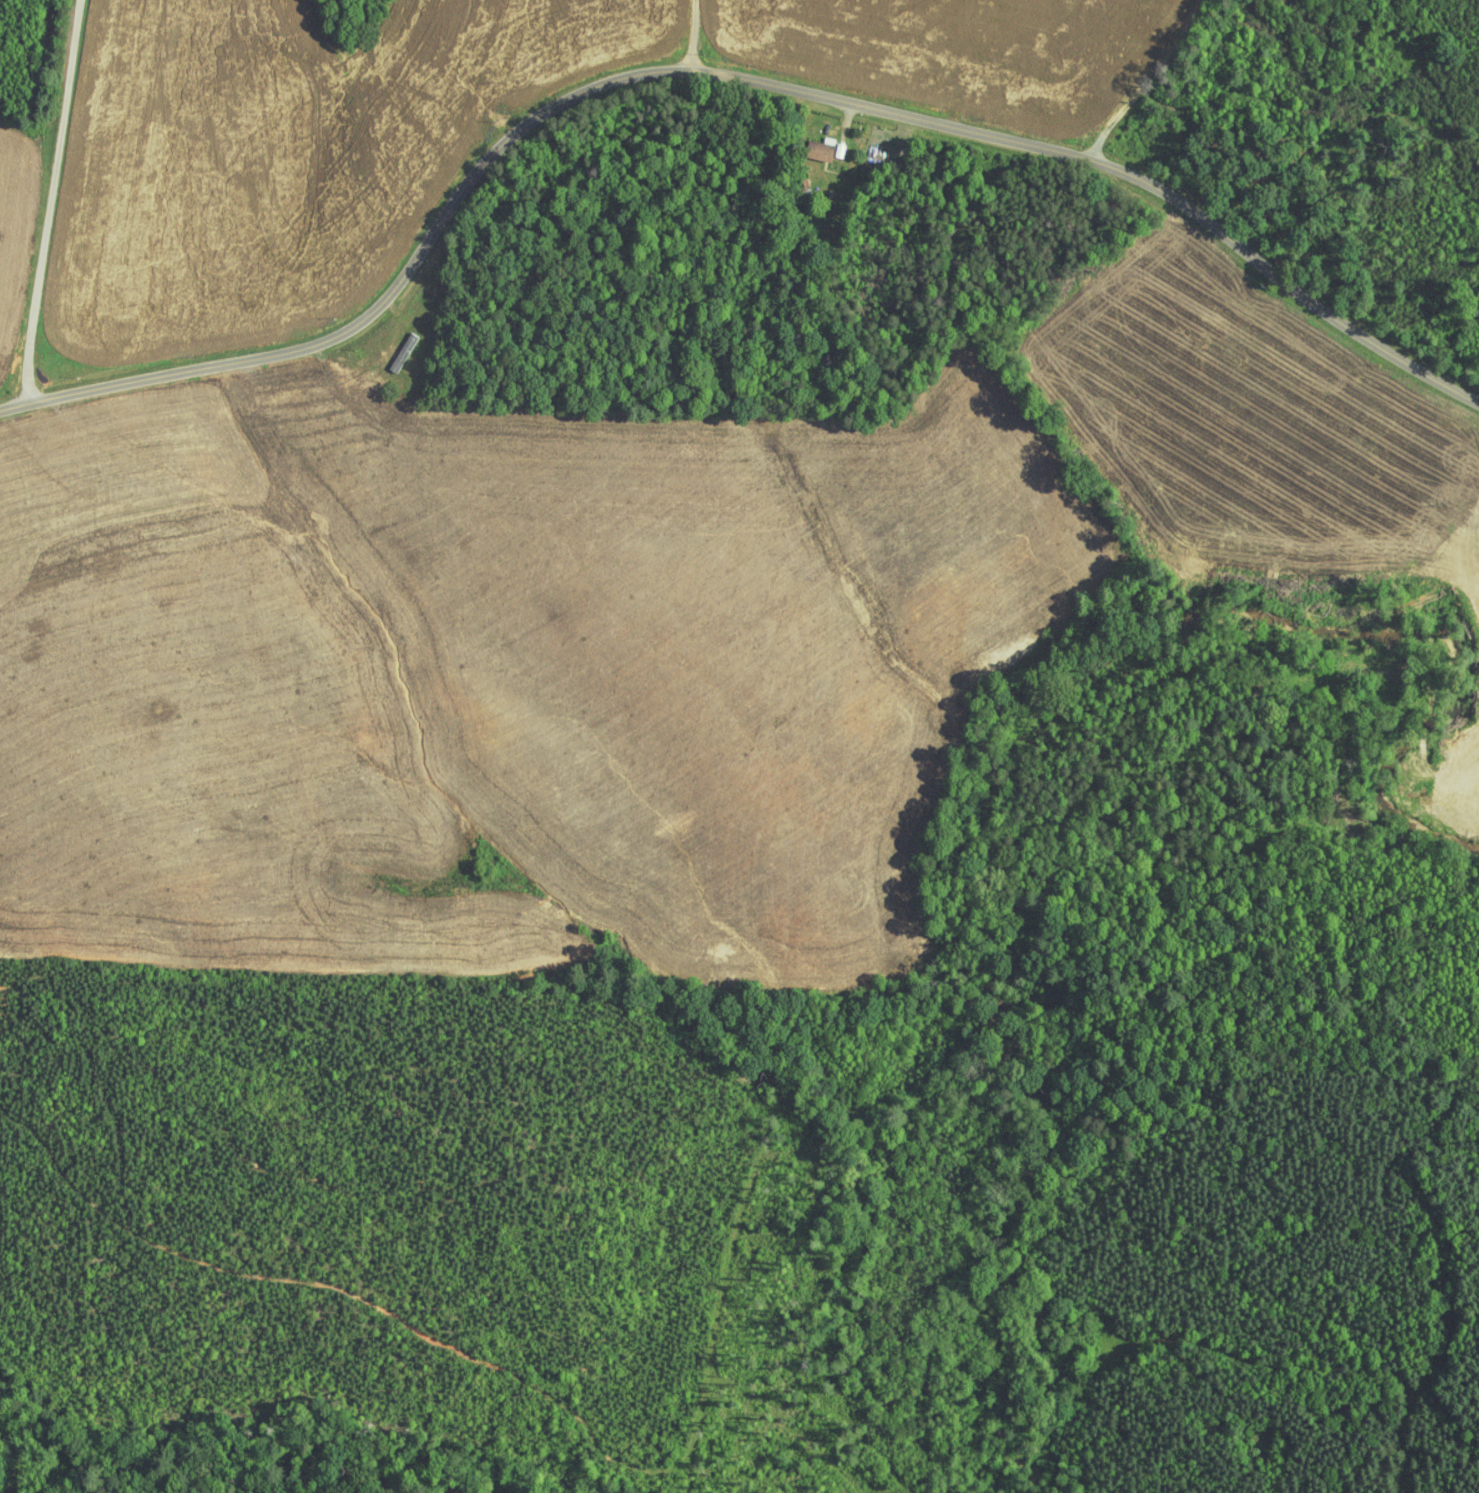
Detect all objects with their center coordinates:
road: (712, 38)
road: (716, 75)
road: (51, 202)

